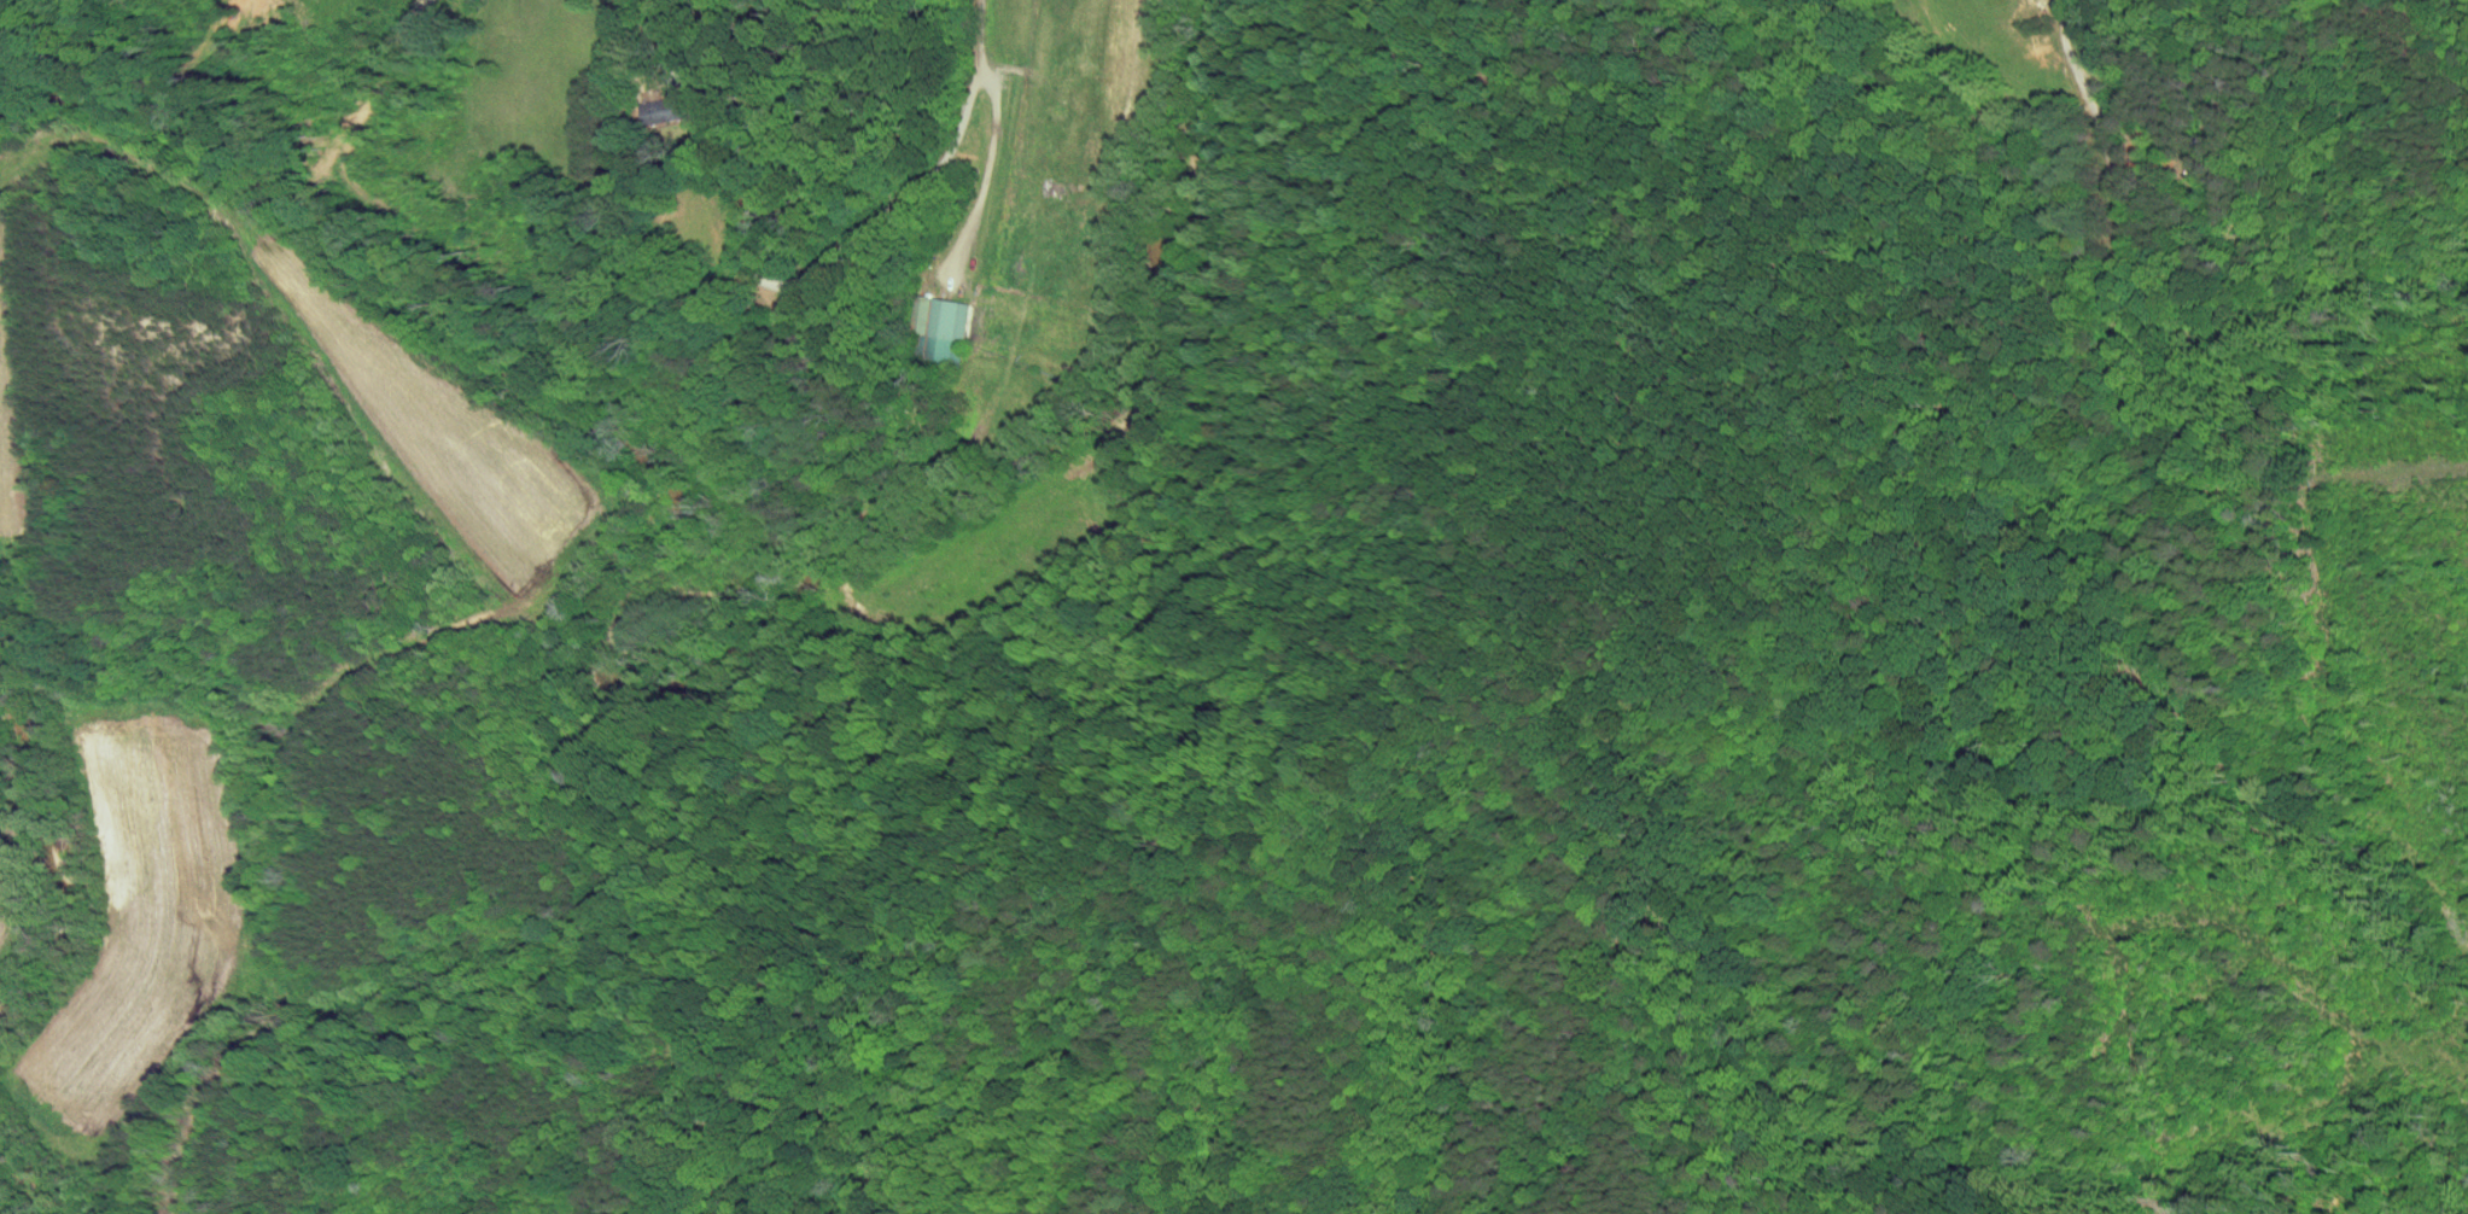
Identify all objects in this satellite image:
road: (985, 37)
road: (2329, 49)
building: (637, 101)
road: (2186, 140)
building: (2196, 165)
road: (987, 177)
road: (832, 261)
road: (2119, 272)
building: (923, 321)
road: (2359, 474)

